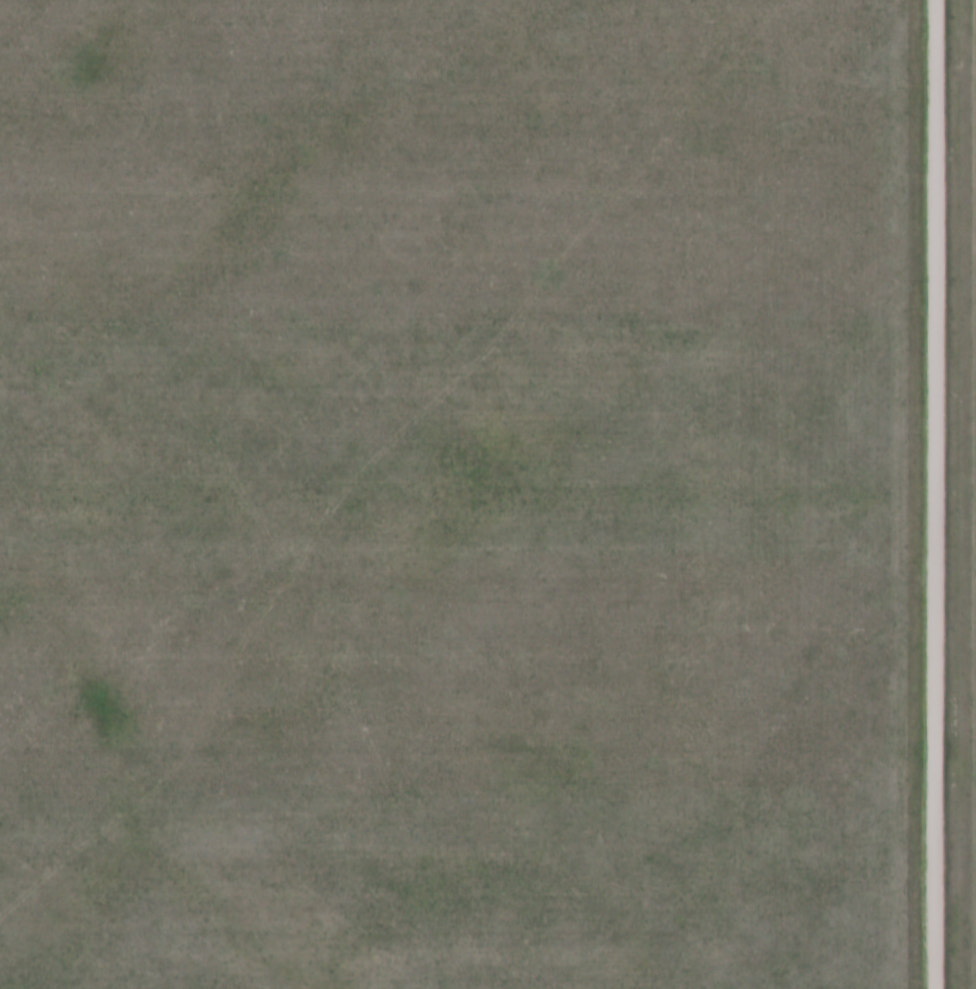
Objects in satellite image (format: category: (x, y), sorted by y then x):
road: (937, 494)

